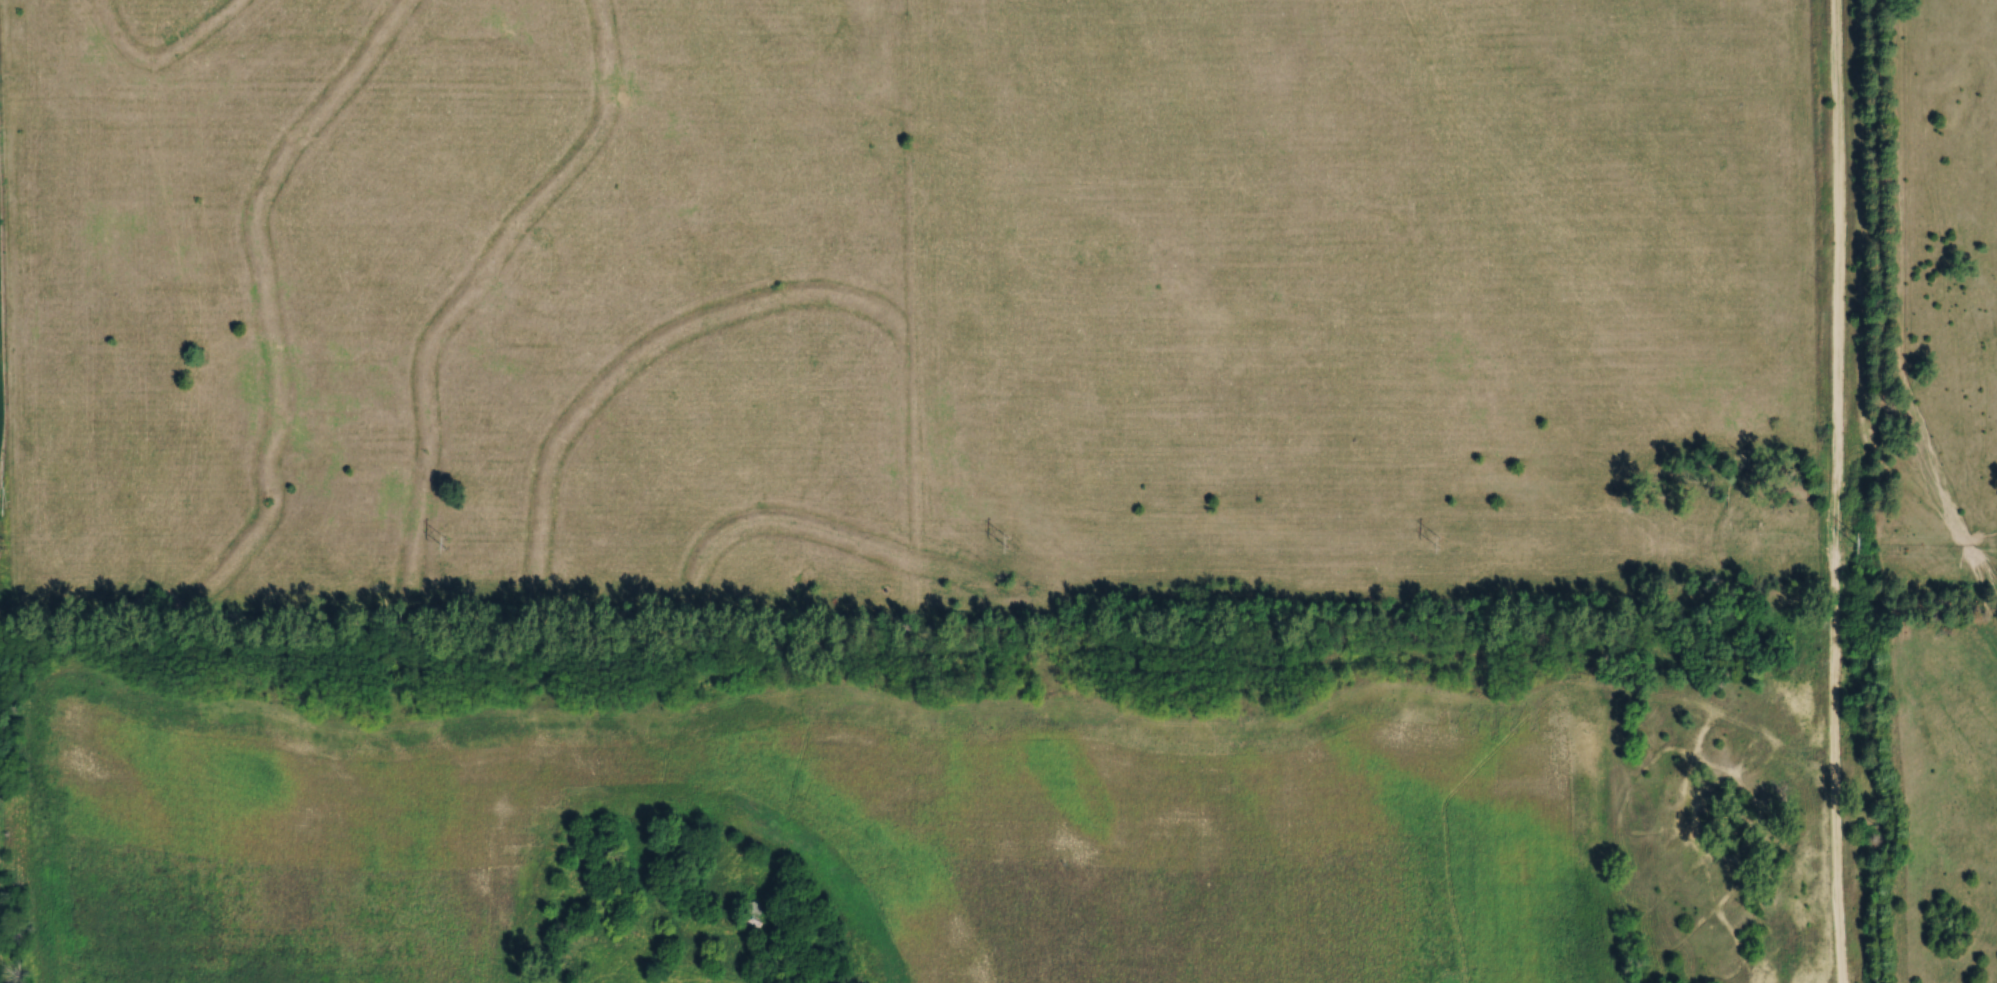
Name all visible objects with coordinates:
road: (1832, 491)
power tower: (1008, 538)
power tower: (1438, 538)
power tower: (1860, 538)
power tower: (2, 539)
power tower: (445, 539)
building: (754, 911)

